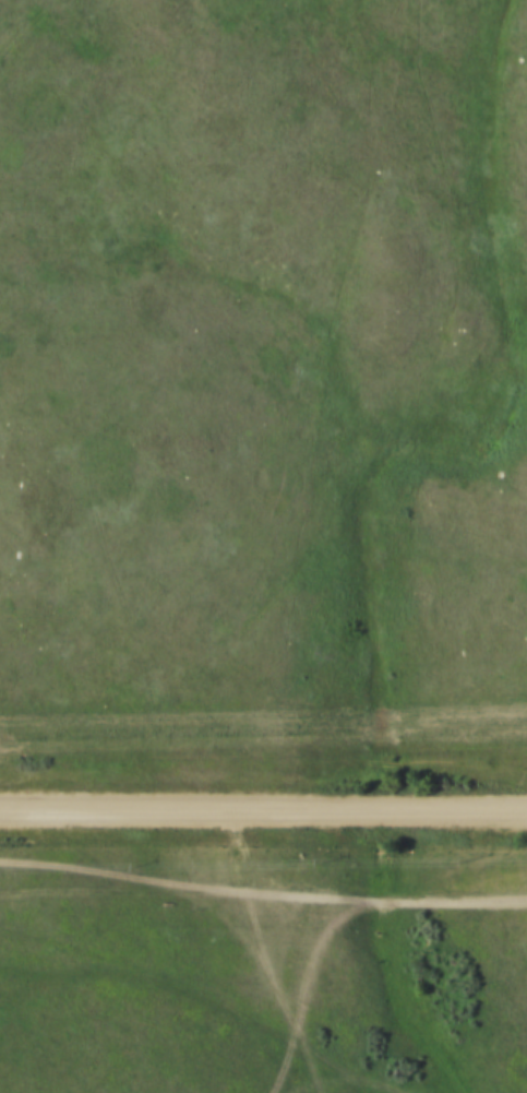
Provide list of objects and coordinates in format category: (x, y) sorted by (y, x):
road: (263, 807)
road: (270, 951)

